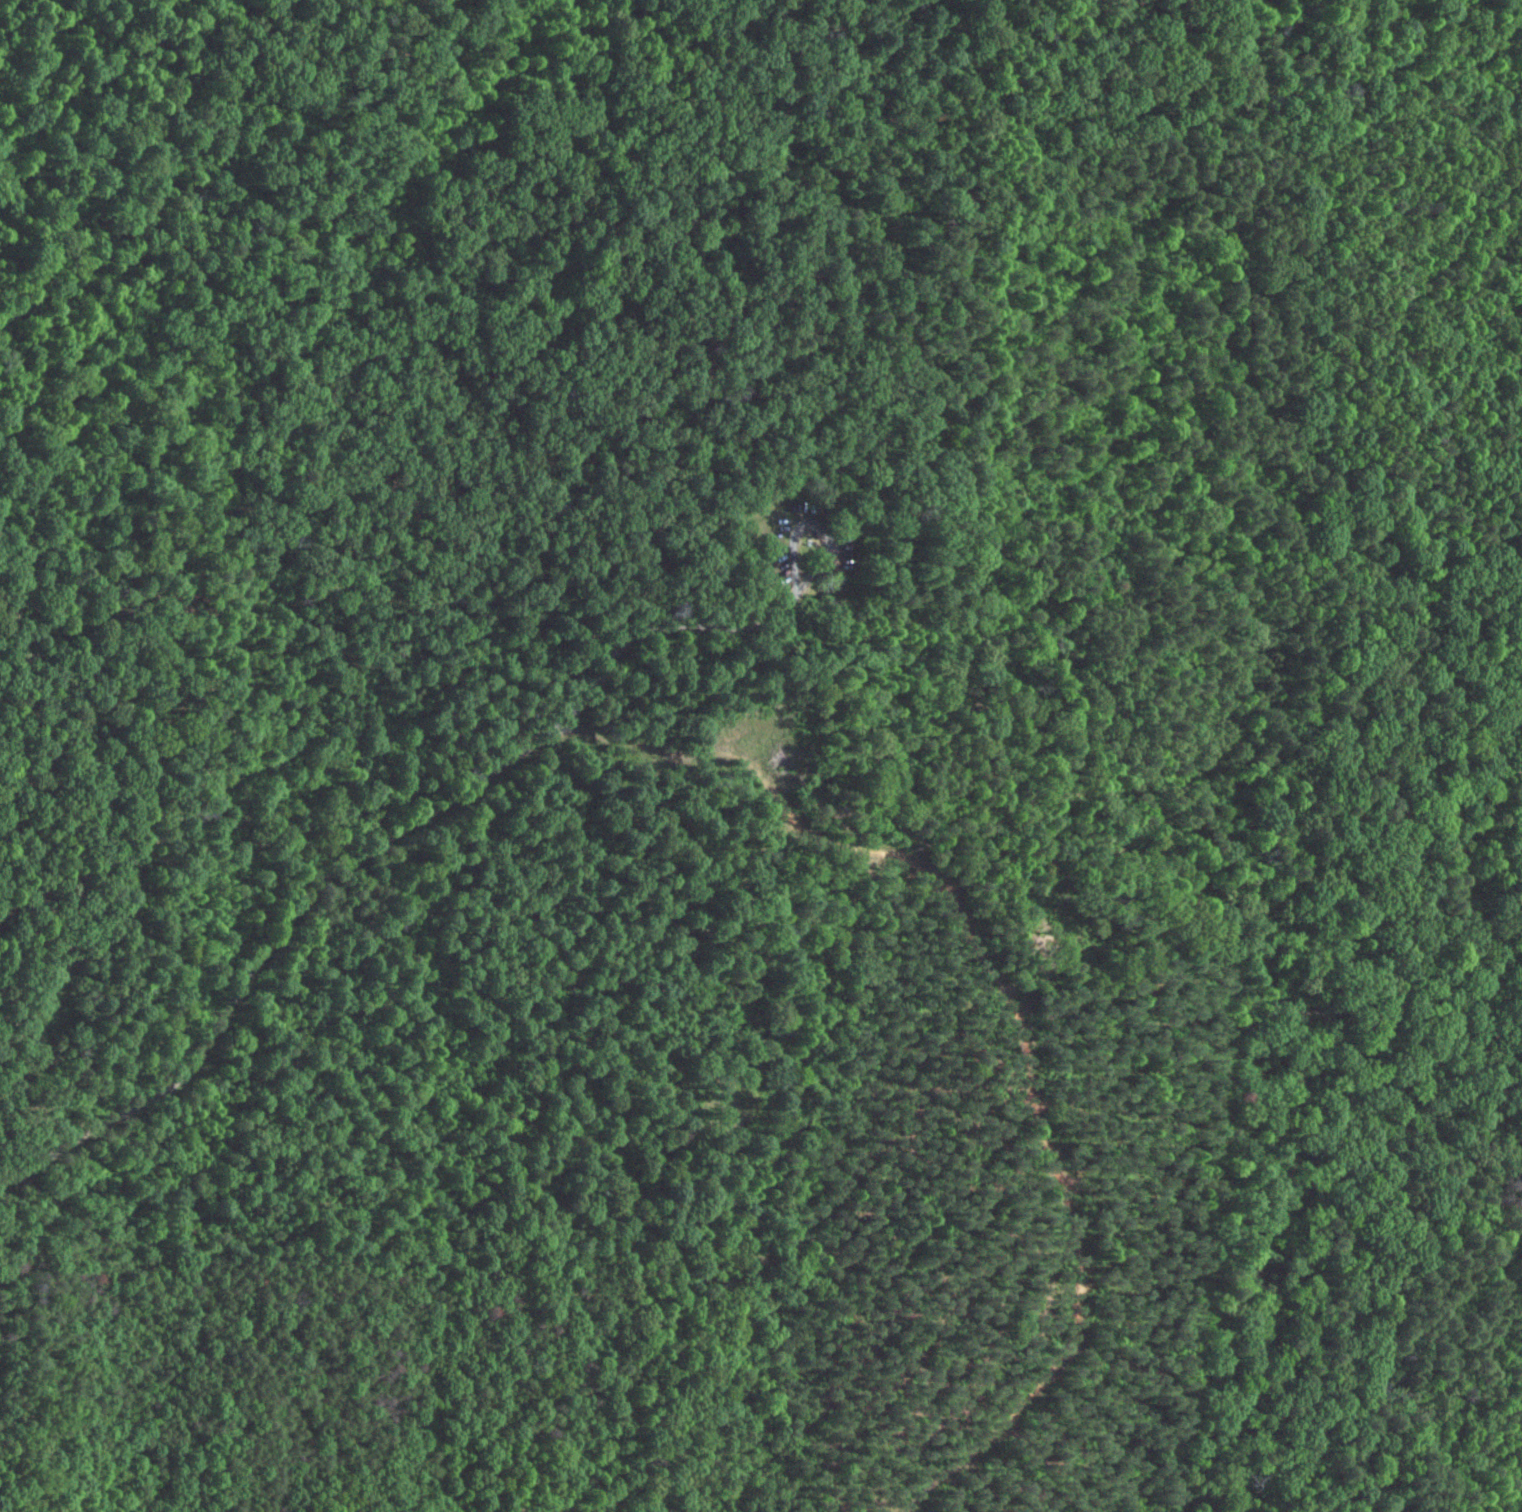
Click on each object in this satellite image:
road: (1006, 109)
road: (814, 523)
parking lot: (790, 550)
road: (376, 846)

